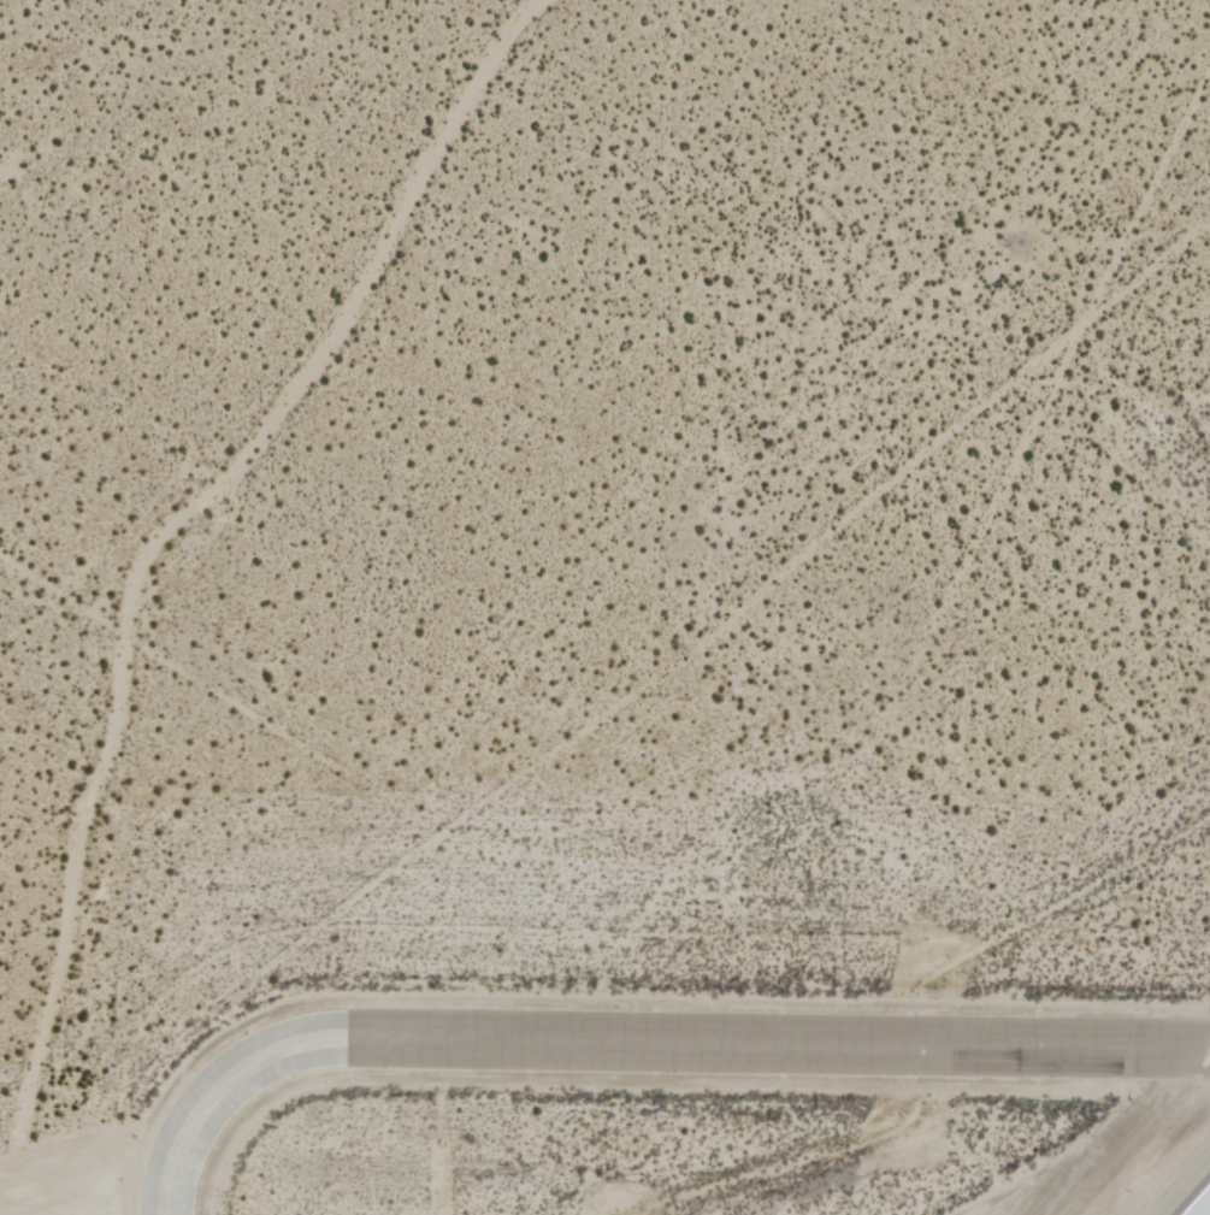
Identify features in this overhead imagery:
airport: (604, 607)
airport taxiway: (636, 1042)

